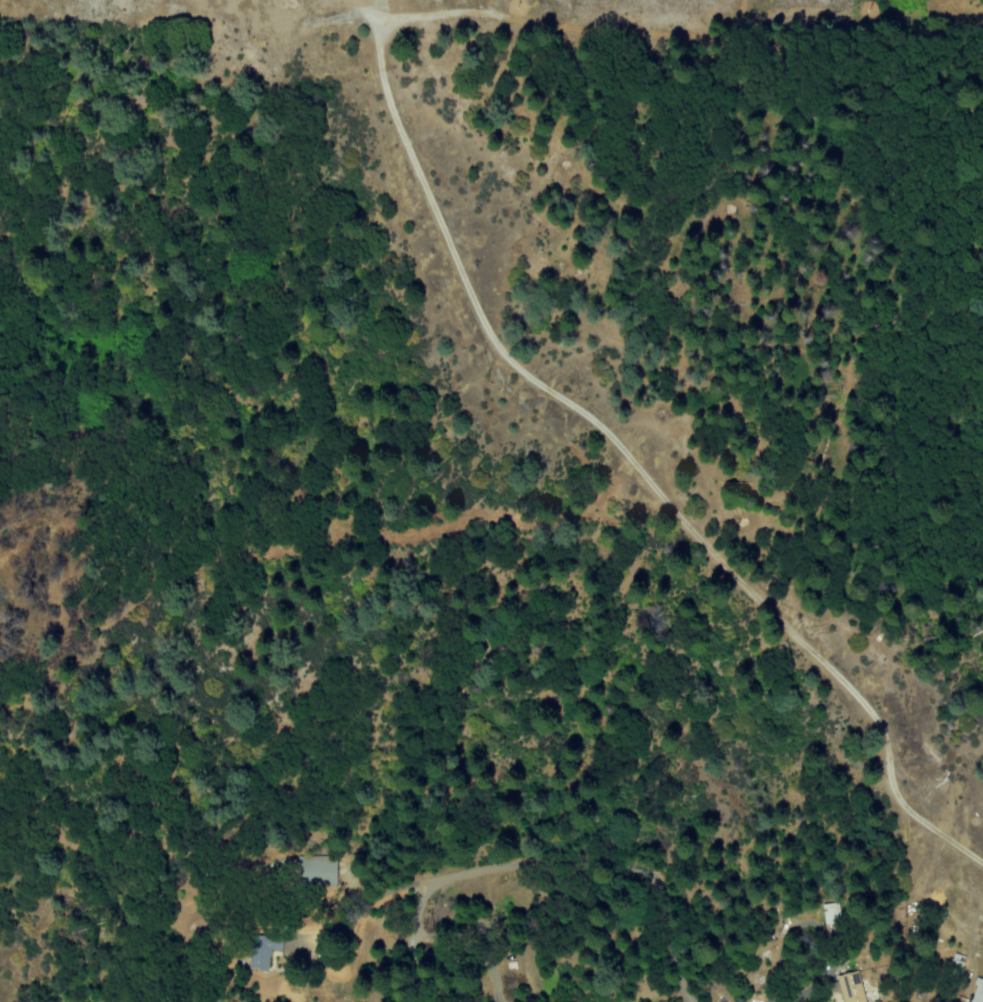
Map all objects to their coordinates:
crop: (913, 21)
crop: (951, 141)
road: (633, 464)
road: (606, 859)
building: (322, 870)
road: (362, 909)
building: (830, 913)
road: (415, 938)
building: (263, 950)
building: (849, 987)
building: (977, 991)

